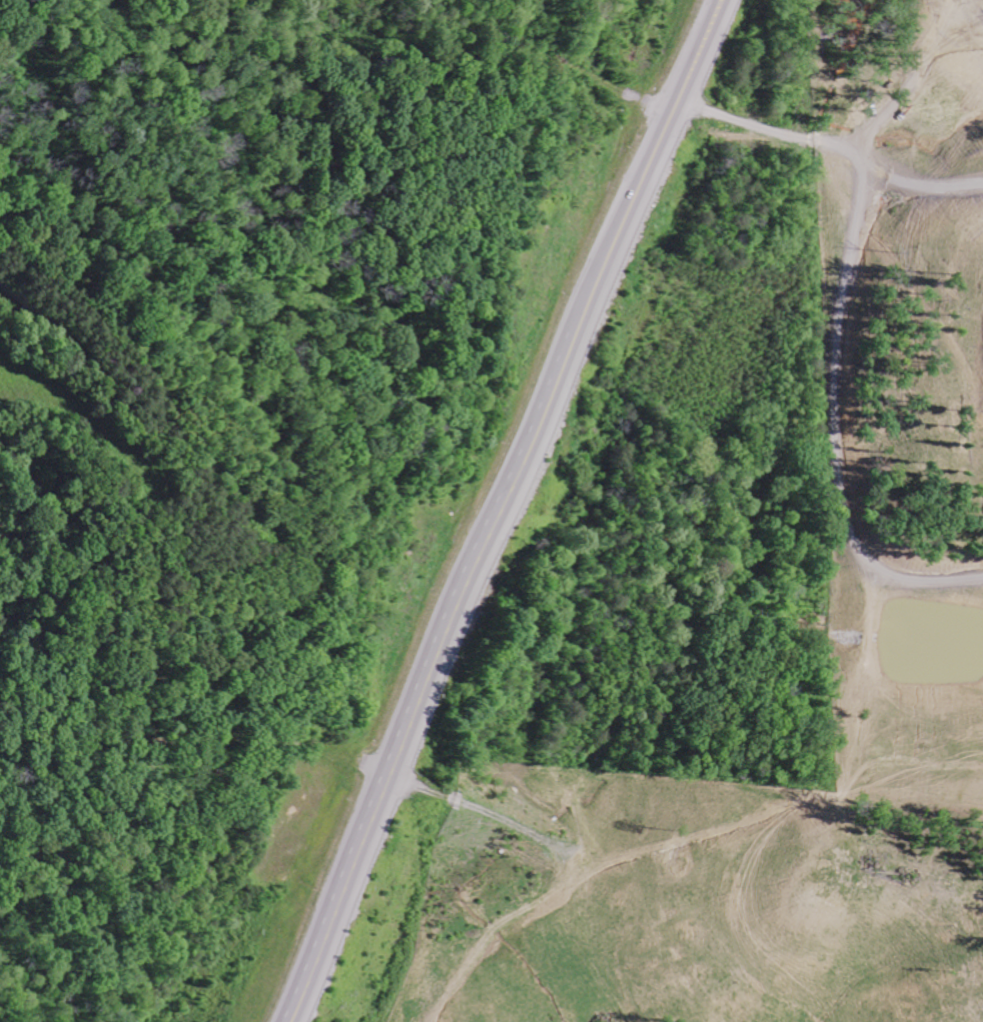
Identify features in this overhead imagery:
road: (505, 511)

